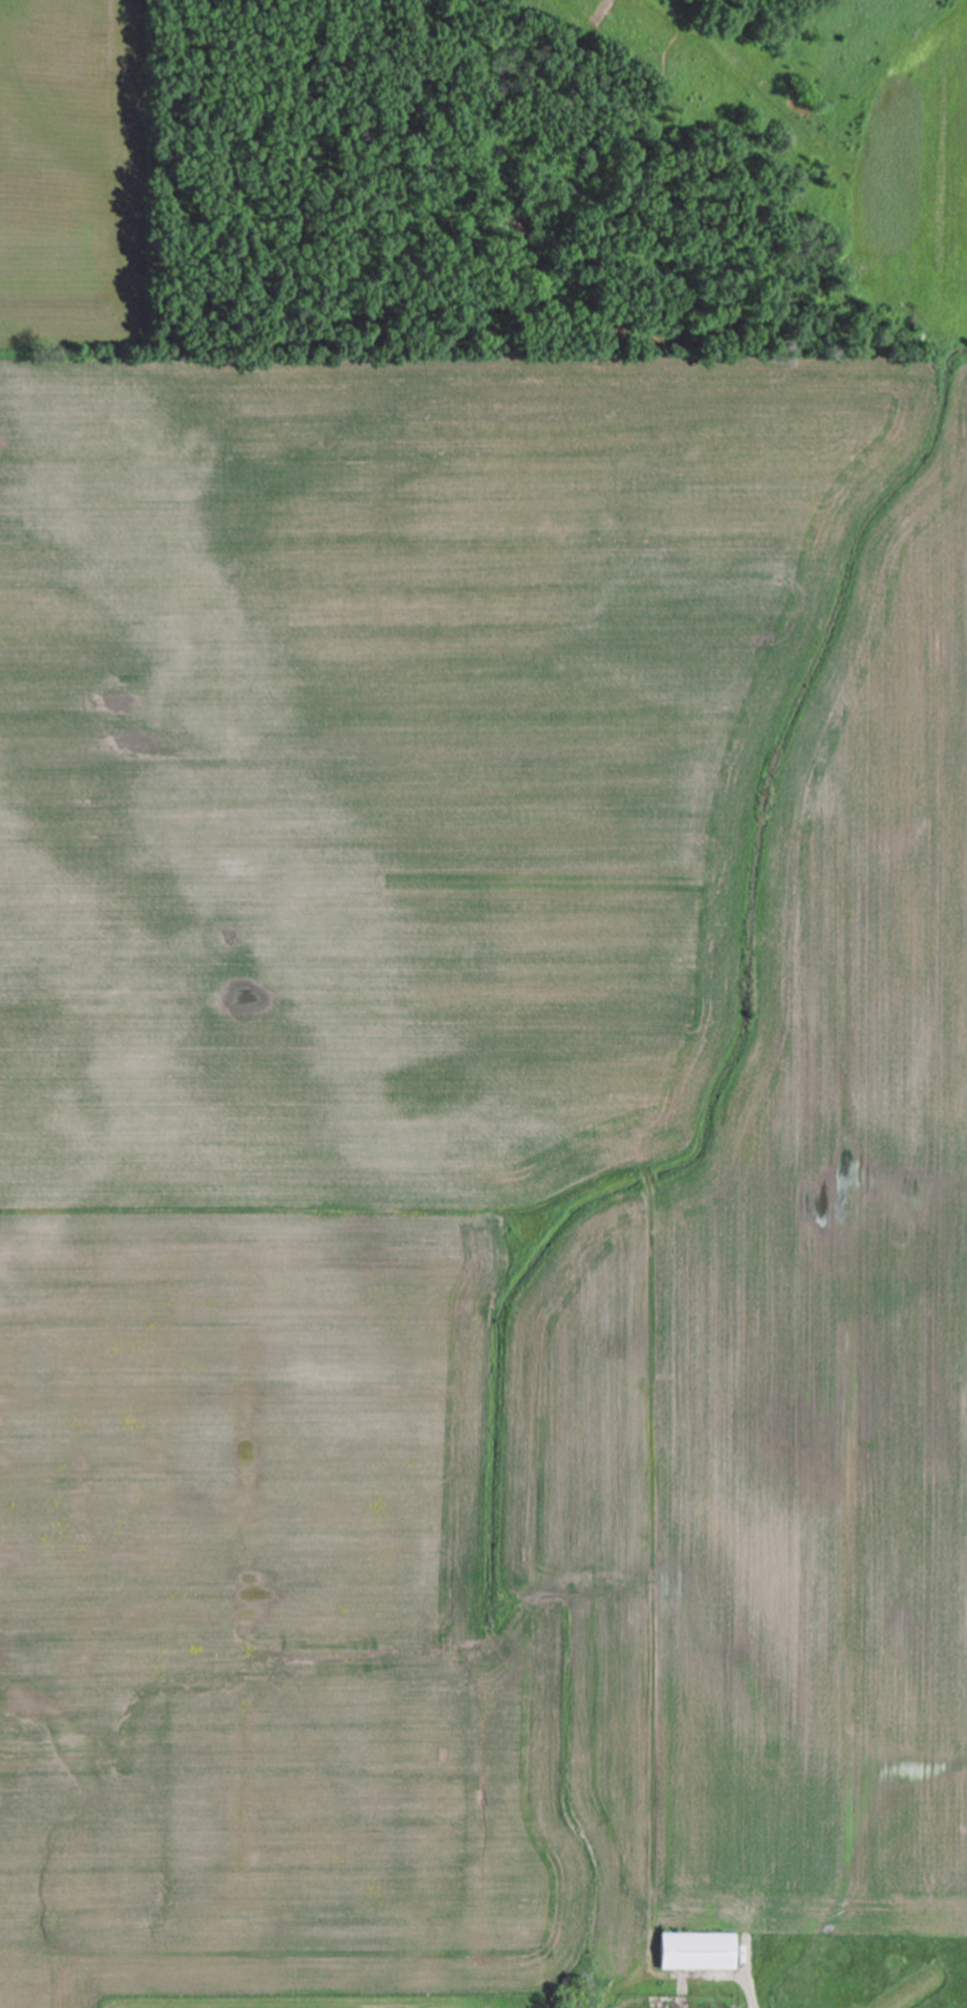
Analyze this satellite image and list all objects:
building: (694, 1951)

